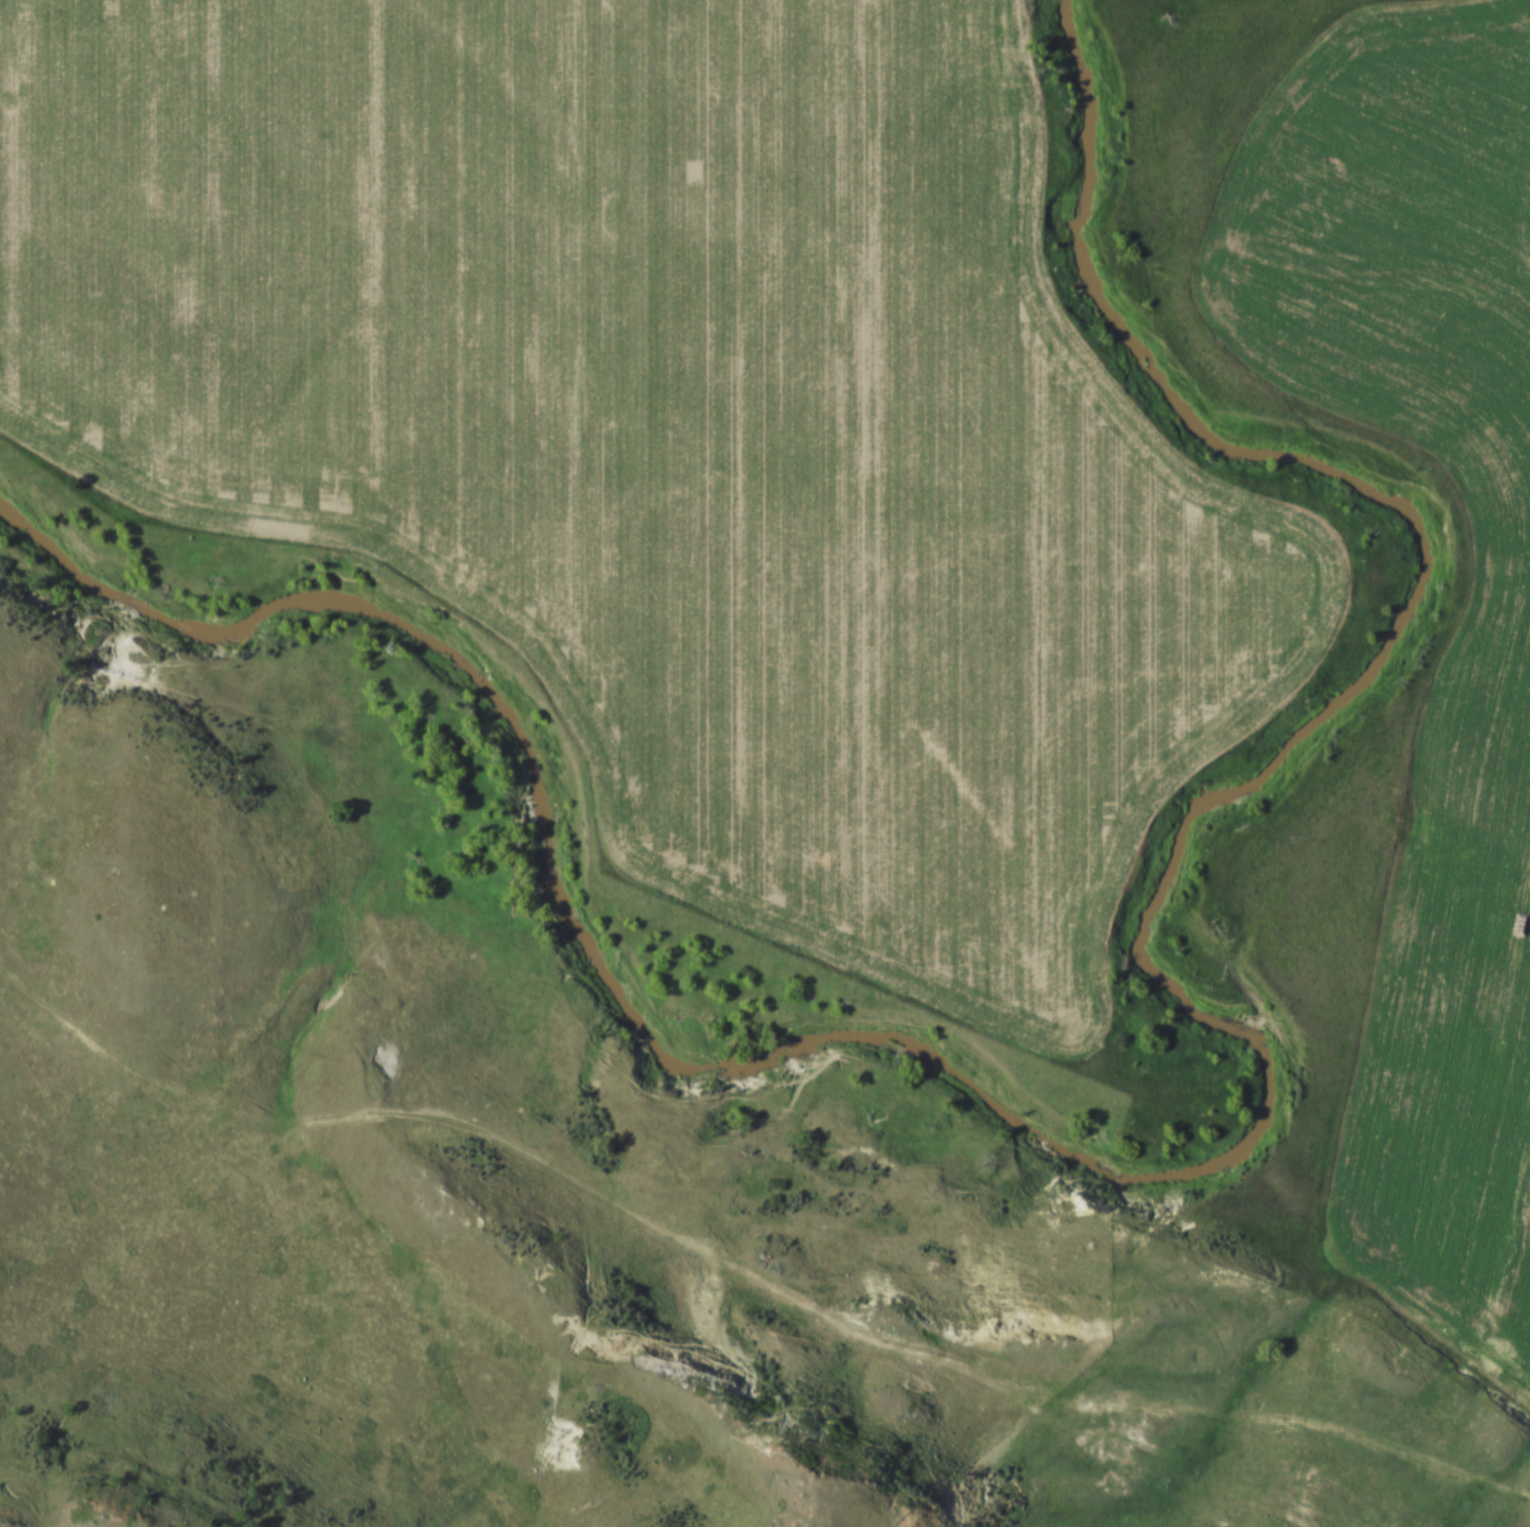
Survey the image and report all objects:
river: (1161, 1163)

